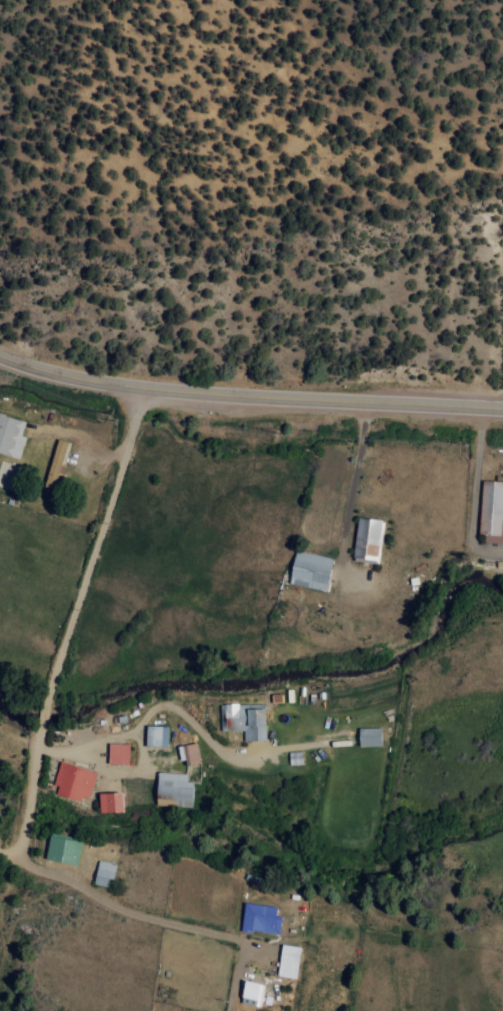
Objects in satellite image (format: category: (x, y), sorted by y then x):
road: (249, 395)
building: (10, 436)
building: (54, 464)
building: (491, 512)
building: (367, 539)
road: (90, 543)
building: (310, 570)
river: (271, 678)
road: (41, 714)
building: (244, 720)
building: (156, 736)
building: (368, 737)
building: (117, 754)
building: (189, 754)
building: (295, 758)
building: (73, 782)
building: (173, 790)
road: (24, 796)
building: (109, 802)
building: (63, 848)
building: (103, 873)
road: (74, 883)
road: (151, 887)
building: (259, 918)
building: (288, 961)
building: (251, 993)

